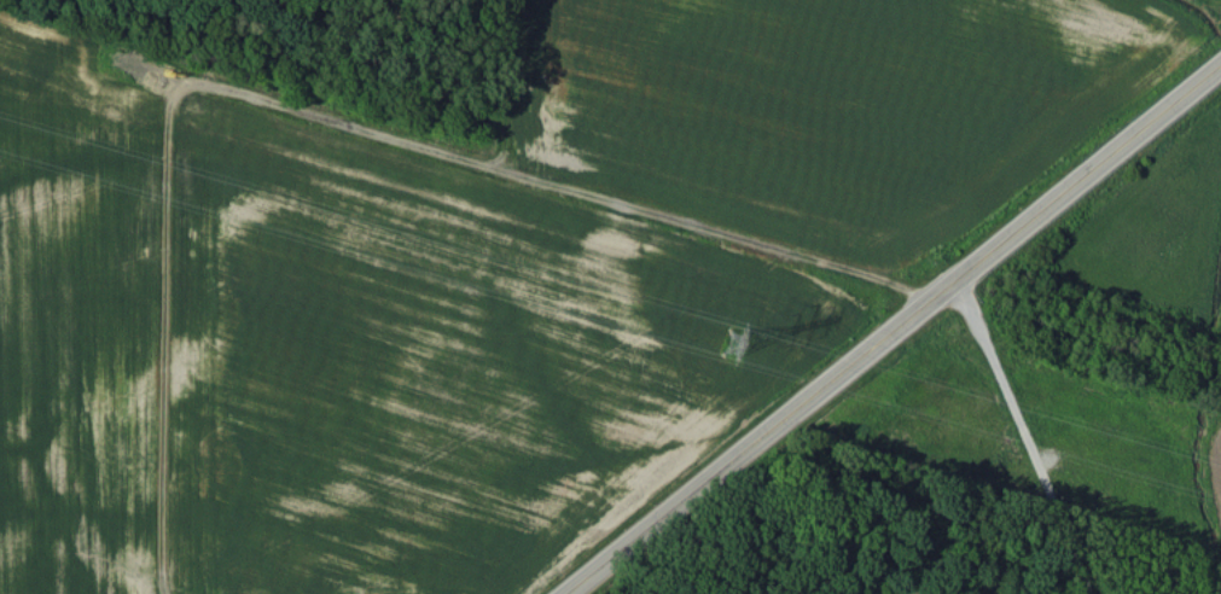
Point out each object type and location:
road: (310, 112)
road: (890, 330)
power tower: (735, 344)
road: (1024, 435)

